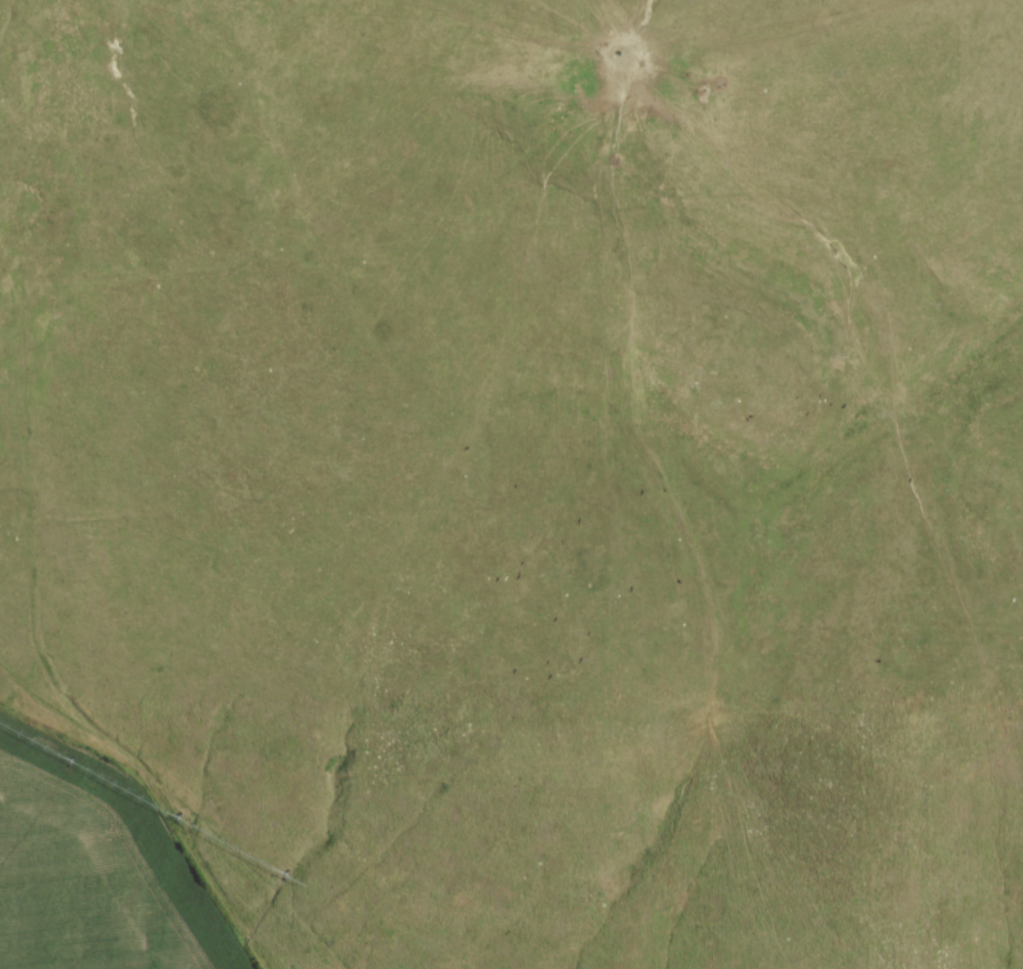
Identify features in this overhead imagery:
crop: (97, 866)

